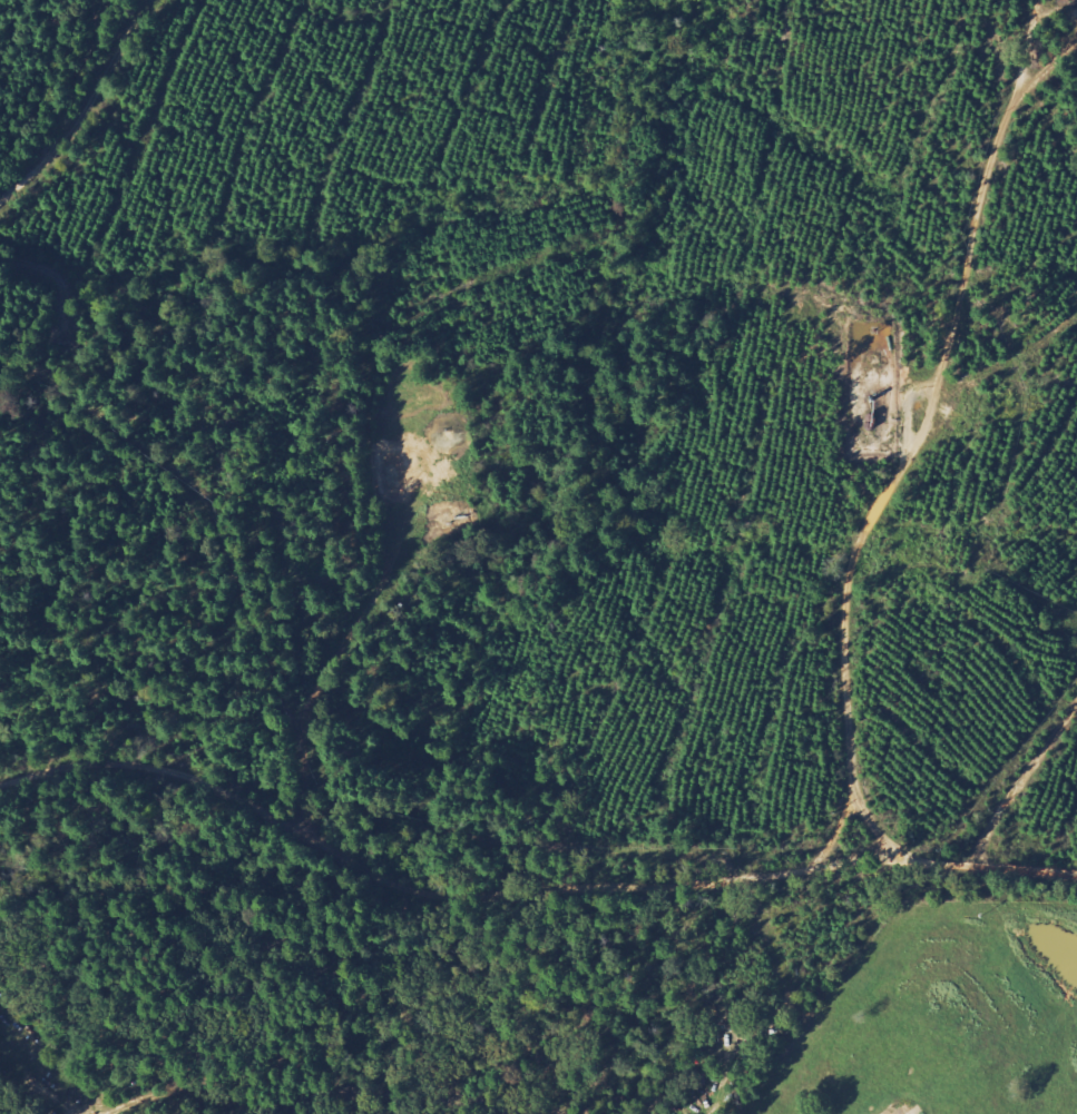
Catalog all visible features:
road: (1020, 783)
road: (523, 893)

